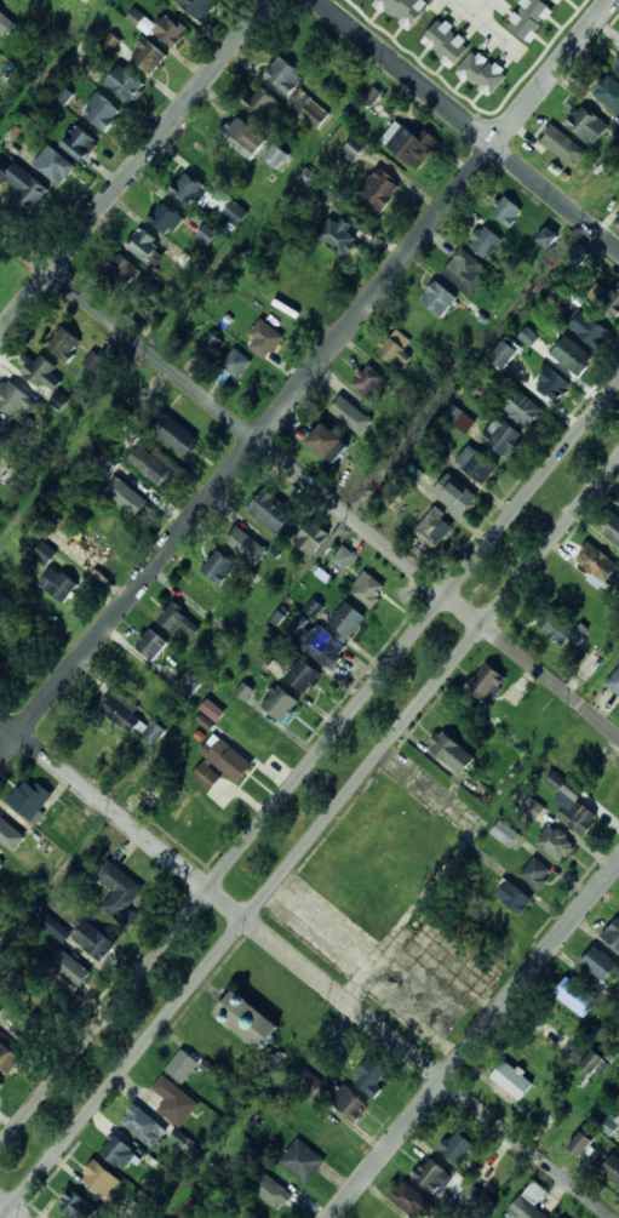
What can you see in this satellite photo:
building: (557, 1)
building: (197, 7)
building: (405, 10)
building: (1, 17)
building: (529, 18)
building: (141, 21)
building: (170, 30)
building: (111, 41)
building: (446, 42)
building: (150, 56)
building: (617, 64)
building: (482, 73)
building: (283, 75)
building: (126, 84)
building: (608, 92)
building: (372, 95)
building: (262, 99)
building: (308, 108)
building: (102, 111)
road: (468, 124)
building: (588, 124)
building: (242, 137)
building: (80, 142)
building: (412, 144)
building: (563, 145)
building: (351, 150)
building: (276, 155)
building: (55, 165)
road: (134, 167)
building: (606, 171)
building: (24, 187)
building: (187, 187)
building: (379, 189)
building: (506, 210)
building: (235, 213)
building: (166, 217)
building: (618, 218)
building: (206, 233)
building: (338, 235)
building: (548, 238)
building: (485, 241)
building: (143, 245)
building: (578, 255)
building: (120, 270)
building: (466, 273)
building: (439, 298)
building: (613, 302)
building: (417, 327)
building: (591, 330)
building: (528, 336)
building: (264, 337)
building: (210, 342)
building: (64, 343)
building: (505, 351)
building: (395, 353)
building: (572, 355)
building: (93, 361)
building: (236, 362)
building: (42, 373)
road: (304, 382)
building: (373, 382)
building: (552, 383)
building: (476, 388)
building: (16, 399)
building: (59, 400)
building: (521, 407)
building: (350, 410)
building: (459, 418)
building: (174, 431)
building: (7, 436)
building: (501, 436)
building: (327, 442)
building: (150, 459)
building: (476, 463)
building: (105, 465)
building: (411, 473)
road: (309, 482)
building: (131, 493)
building: (455, 494)
building: (618, 505)
building: (271, 510)
building: (1, 515)
building: (109, 521)
building: (612, 526)
building: (44, 527)
building: (435, 527)
building: (313, 538)
building: (247, 543)
building: (87, 549)
building: (44, 553)
building: (343, 557)
building: (598, 565)
building: (218, 566)
building: (59, 584)
building: (368, 589)
building: (314, 607)
building: (177, 619)
building: (348, 621)
building: (557, 627)
building: (151, 645)
building: (320, 645)
building: (304, 675)
building: (131, 680)
building: (614, 681)
building: (487, 684)
building: (189, 685)
building: (243, 691)
building: (280, 703)
building: (212, 709)
building: (121, 710)
building: (205, 721)
building: (94, 744)
building: (452, 753)
road: (309, 764)
building: (223, 765)
building: (31, 799)
building: (533, 807)
building: (579, 816)
building: (71, 825)
building: (8, 831)
building: (505, 833)
road: (309, 835)
building: (555, 842)
building: (1, 854)
building: (1, 863)
building: (537, 874)
building: (120, 890)
building: (515, 898)
building: (613, 933)
building: (0, 936)
building: (80, 936)
building: (600, 963)
road: (304, 968)
building: (71, 972)
building: (577, 996)
building: (21, 1018)
building: (248, 1020)
road: (476, 1041)
building: (592, 1056)
building: (6, 1058)
building: (188, 1067)
building: (372, 1076)
building: (308, 1081)
building: (512, 1081)
building: (1, 1082)
building: (176, 1100)
building: (349, 1104)
building: (144, 1126)
building: (609, 1126)
building: (325, 1133)
building: (583, 1145)
building: (458, 1146)
building: (118, 1151)
building: (302, 1161)
building: (612, 1170)
building: (436, 1177)
building: (101, 1178)
building: (273, 1193)
building: (411, 1200)
building: (529, 1202)
building: (76, 1207)
road: (11, 1208)

